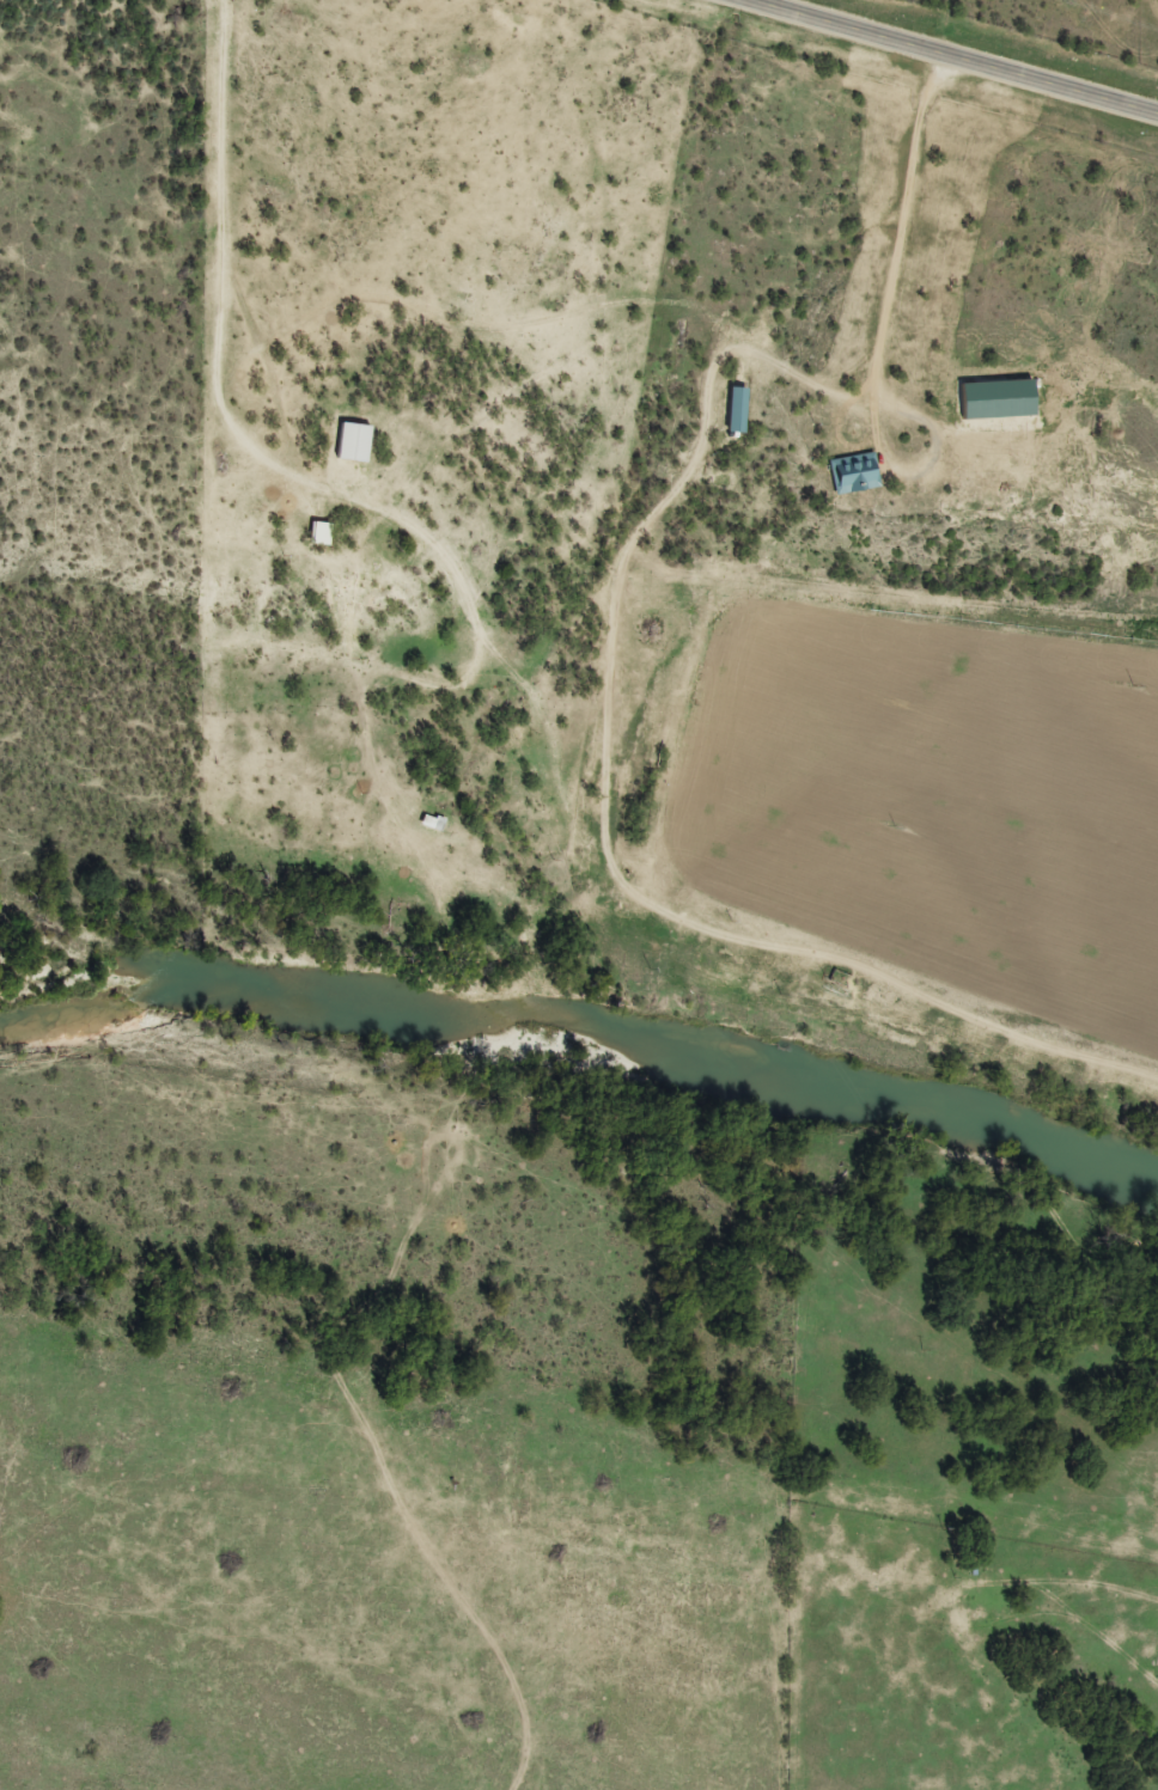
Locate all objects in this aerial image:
road: (957, 54)
building: (735, 409)
building: (351, 440)
building: (853, 472)
building: (317, 532)
road: (589, 680)
building: (429, 821)
river: (589, 1033)
road: (467, 1117)
road: (12, 1590)

